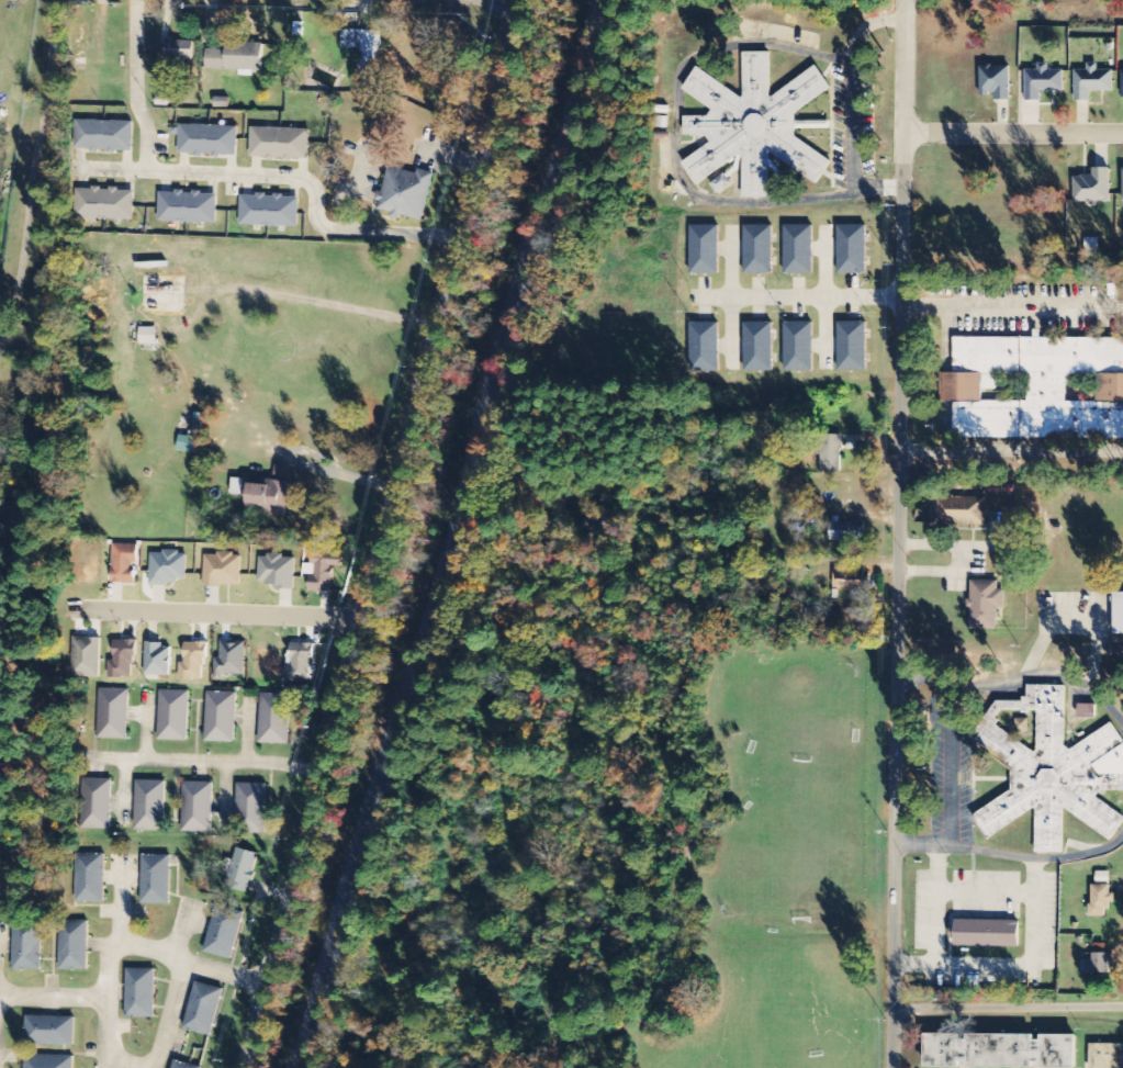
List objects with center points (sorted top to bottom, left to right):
road: (490, 0)
building: (179, 50)
building: (366, 55)
building: (235, 58)
building: (1043, 82)
building: (1092, 82)
building: (995, 83)
road: (136, 86)
building: (1122, 86)
building: (752, 125)
road: (1013, 133)
building: (103, 136)
building: (209, 142)
building: (280, 144)
road: (283, 175)
road: (33, 178)
building: (1093, 188)
building: (406, 194)
building: (1122, 201)
building: (105, 204)
building: (188, 207)
building: (269, 211)
building: (705, 251)
building: (759, 251)
building: (799, 251)
building: (853, 251)
building: (160, 295)
road: (797, 300)
building: (707, 348)
building: (759, 348)
building: (853, 348)
building: (799, 349)
building: (1036, 389)
park: (27, 416)
building: (198, 424)
building: (188, 443)
building: (830, 453)
building: (268, 494)
building: (961, 511)
railway: (434, 532)
building: (845, 532)
road: (898, 533)
road: (381, 535)
building: (124, 563)
building: (166, 569)
building: (222, 571)
building: (323, 571)
building: (277, 572)
building: (847, 582)
building: (986, 606)
building: (1119, 614)
road: (214, 615)
building: (1114, 651)
building: (87, 657)
building: (123, 659)
building: (157, 660)
building: (231, 660)
building: (194, 661)
building: (300, 663)
building: (1087, 711)
building: (113, 713)
building: (173, 716)
building: (221, 718)
building: (273, 719)
road: (202, 760)
building: (1051, 769)
building: (96, 805)
building: (149, 806)
building: (196, 808)
building: (250, 810)
building: (242, 870)
building: (90, 879)
building: (155, 880)
road: (123, 900)
building: (1101, 900)
road: (179, 926)
building: (224, 932)
building: (986, 934)
road: (127, 945)
building: (72, 946)
building: (26, 947)
building: (1097, 965)
building: (141, 993)
road: (54, 996)
building: (203, 1010)
road: (1008, 1011)
road: (168, 1013)
building: (49, 1032)
building: (1003, 1049)
building: (1107, 1055)
building: (47, 1061)
road: (131, 1064)
building: (183, 1066)

